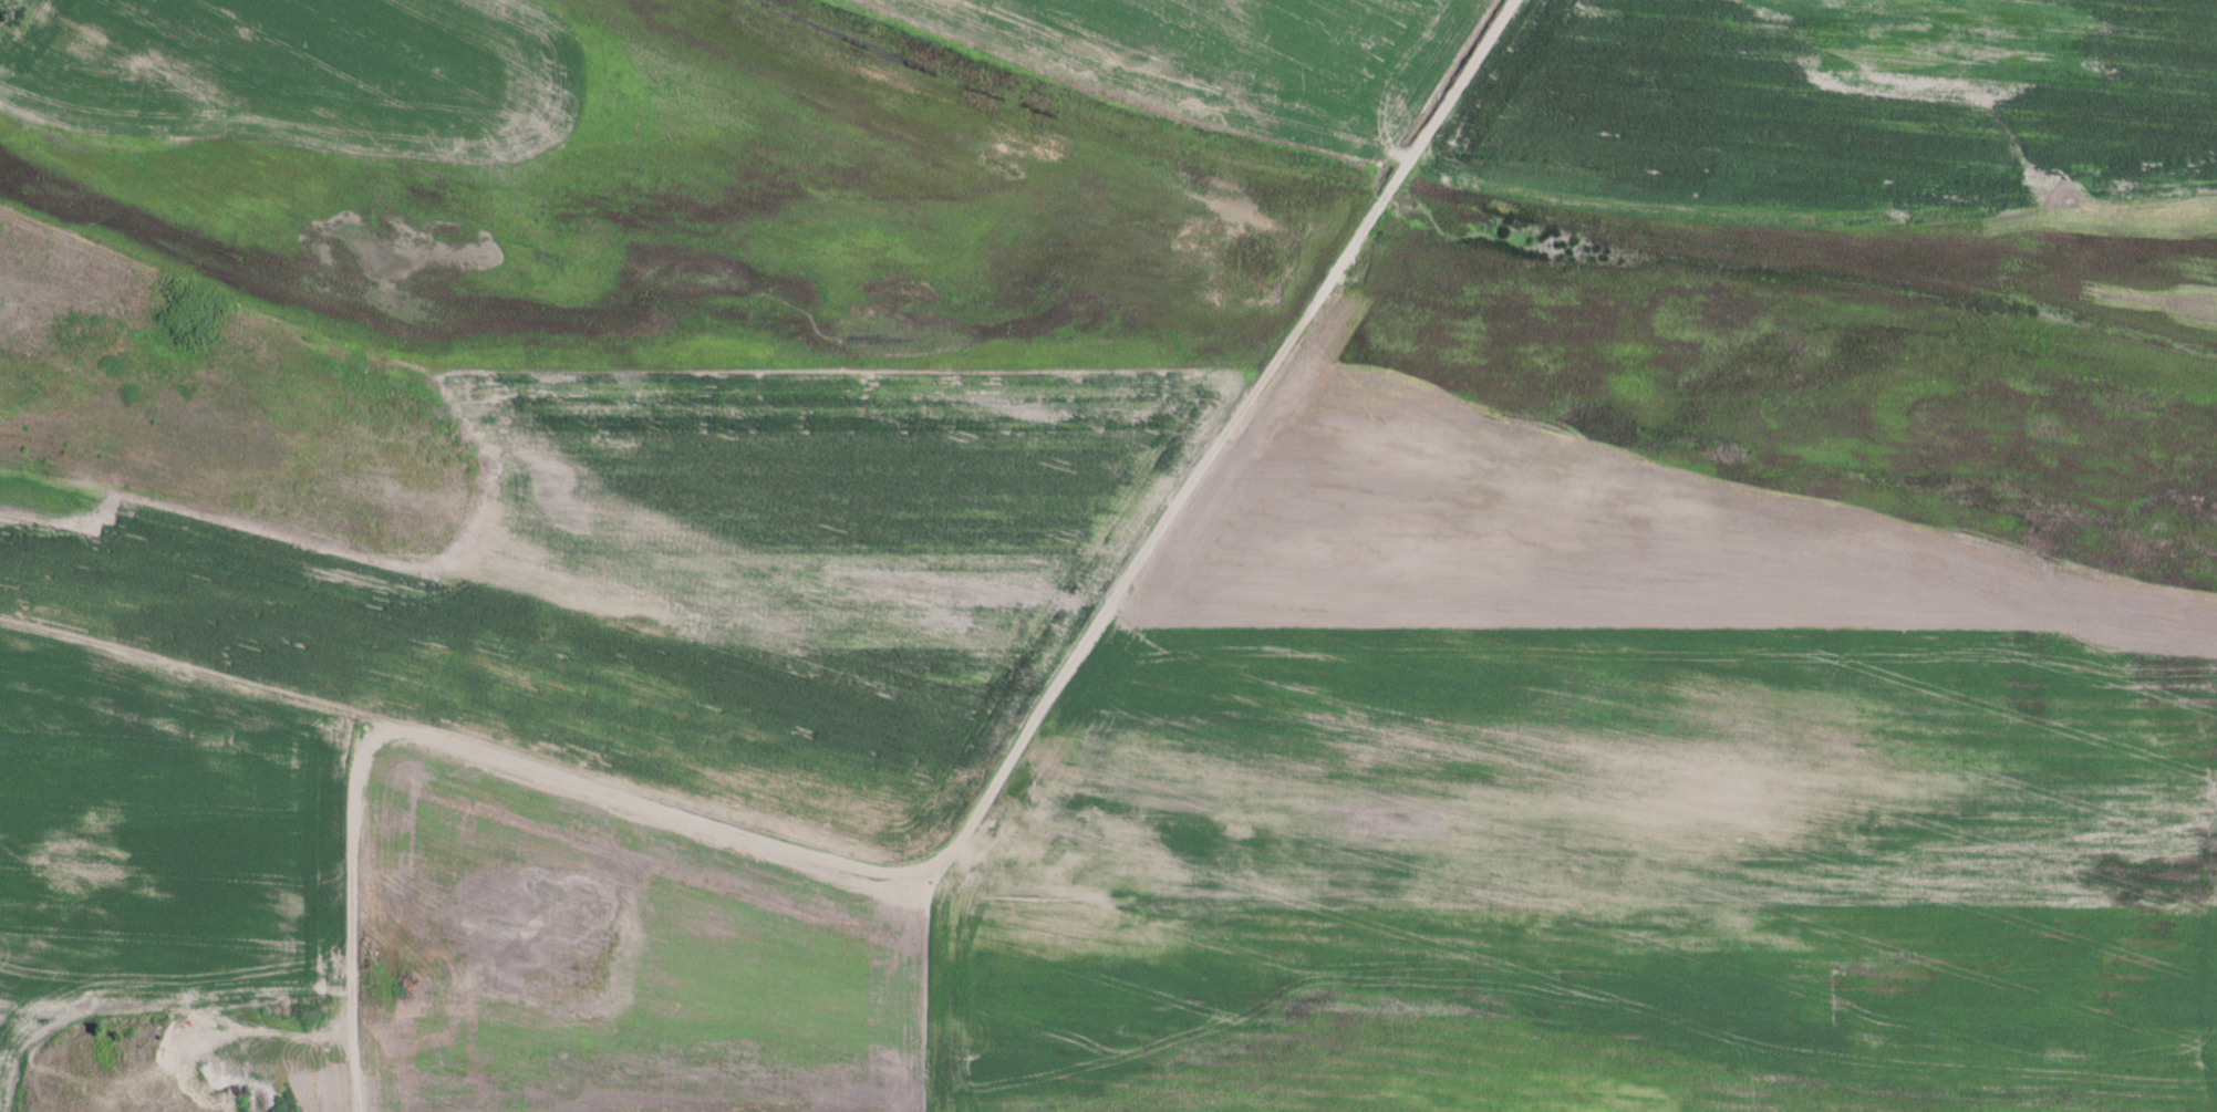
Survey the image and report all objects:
road: (956, 835)
road: (434, 900)
road: (358, 911)
road: (155, 1017)

